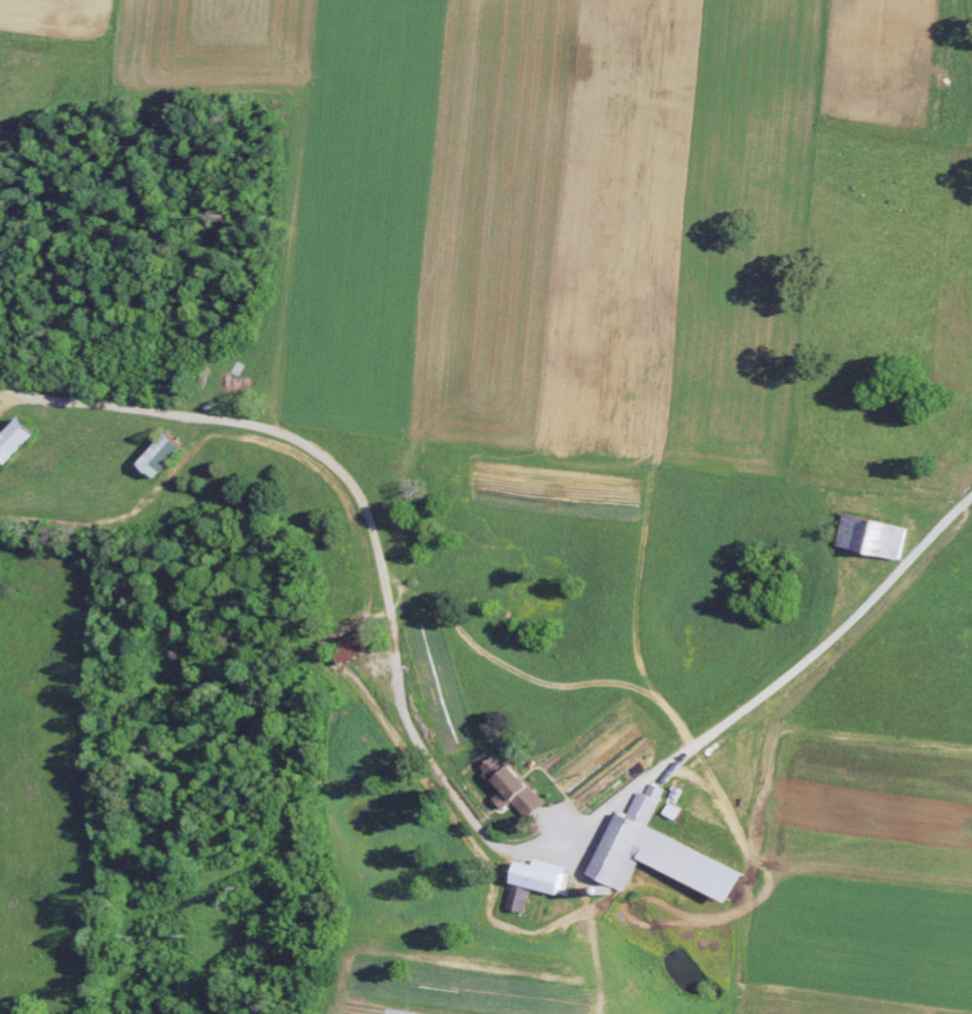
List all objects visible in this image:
building: (14, 443)
building: (161, 456)
building: (872, 537)
building: (354, 647)
road: (778, 681)
building: (511, 788)
building: (672, 812)
building: (656, 854)

